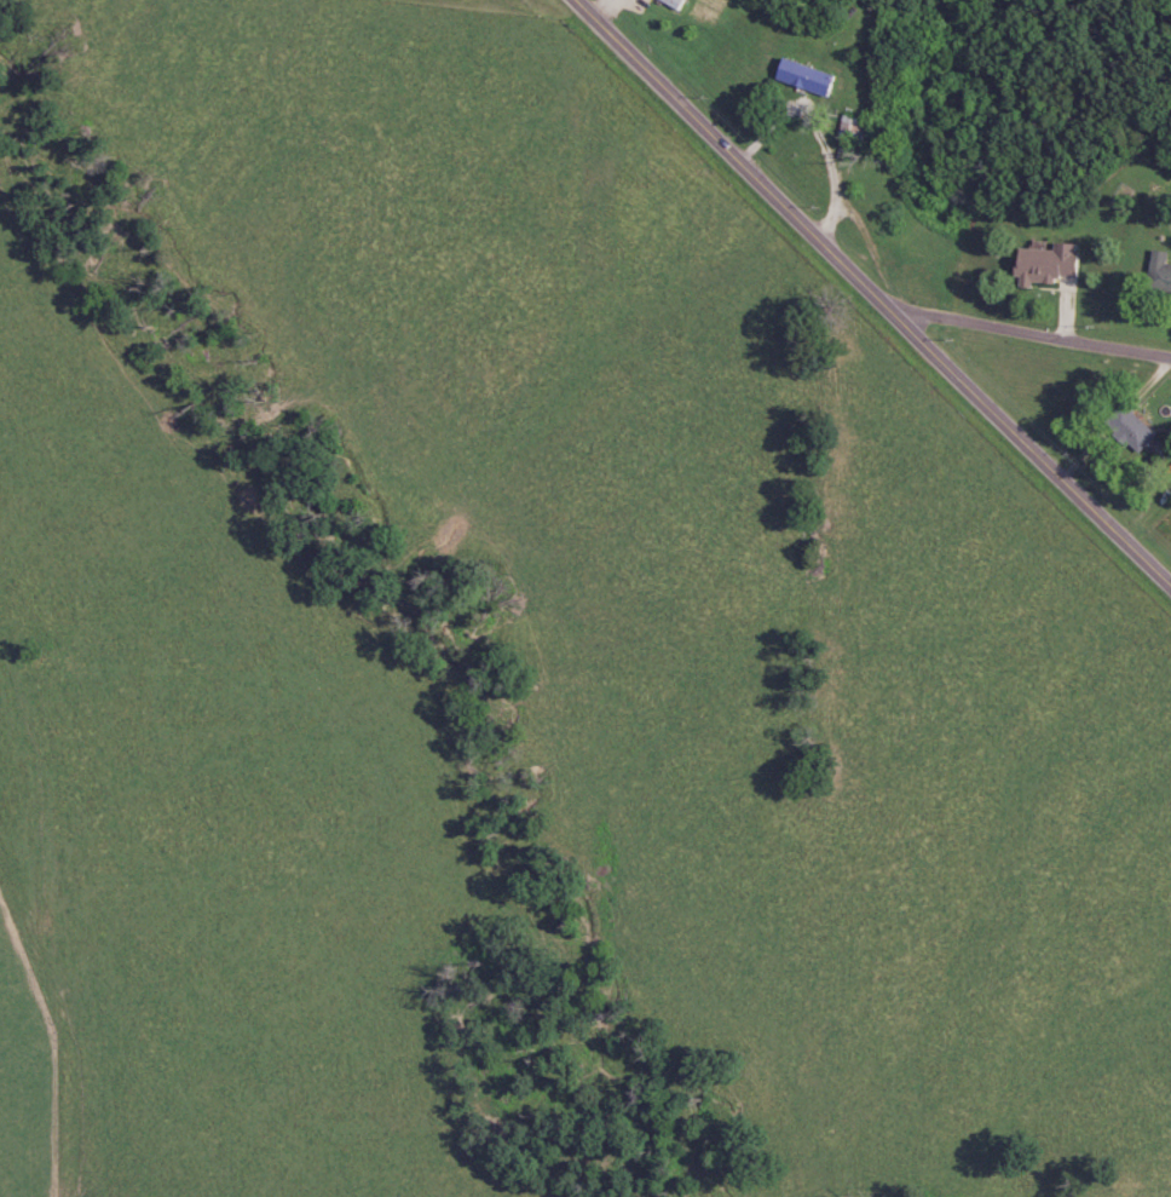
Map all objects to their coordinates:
building: (669, 1)
building: (800, 77)
building: (849, 130)
building: (1042, 264)
building: (1158, 272)
road: (875, 288)
road: (1036, 336)
building: (1125, 428)

